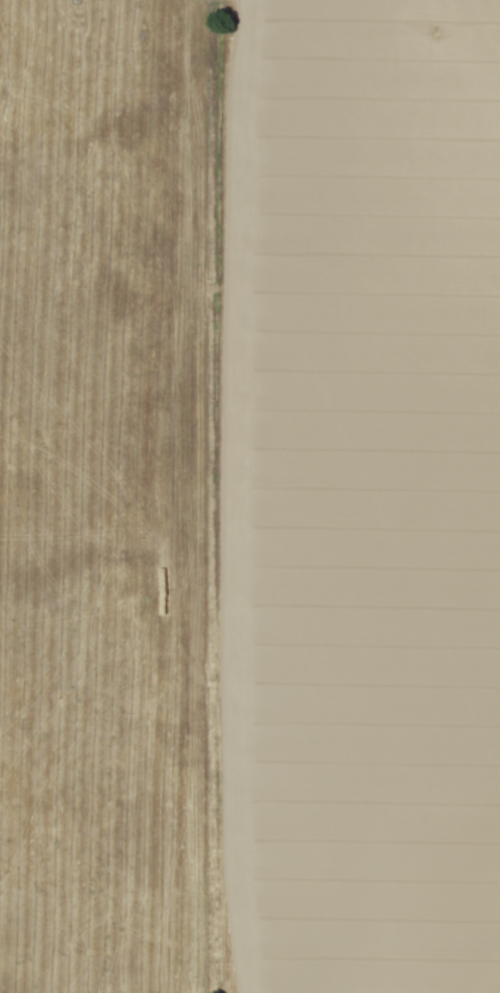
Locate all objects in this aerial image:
crop: (350, 497)

